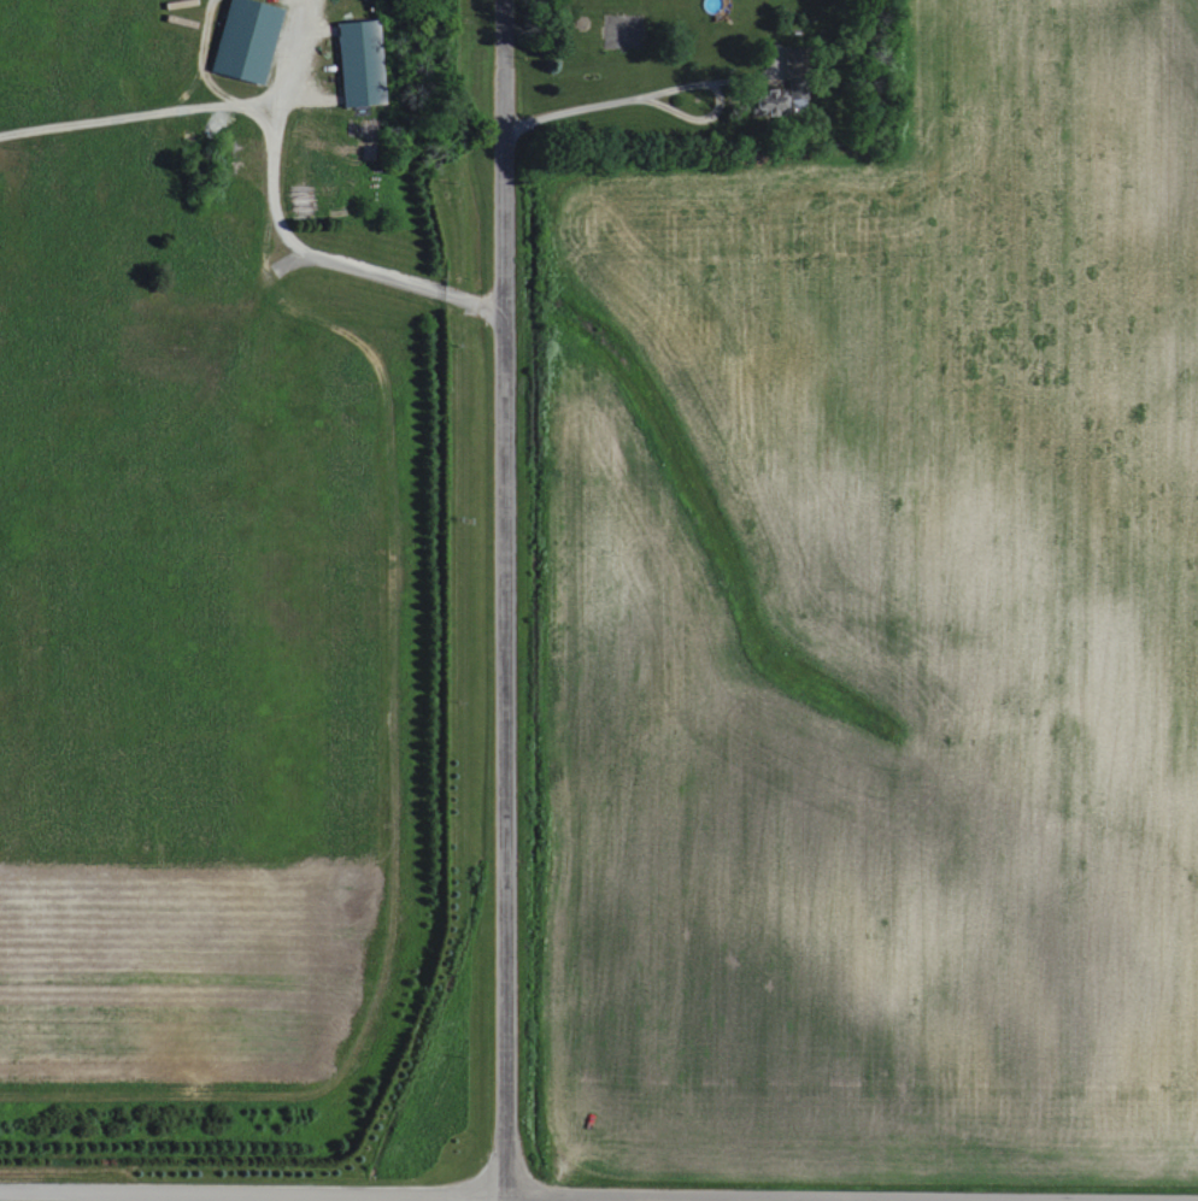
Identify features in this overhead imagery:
building: (245, 40)
building: (359, 63)
road: (654, 94)
road: (139, 114)
road: (281, 229)
road: (501, 600)
road: (518, 1195)

